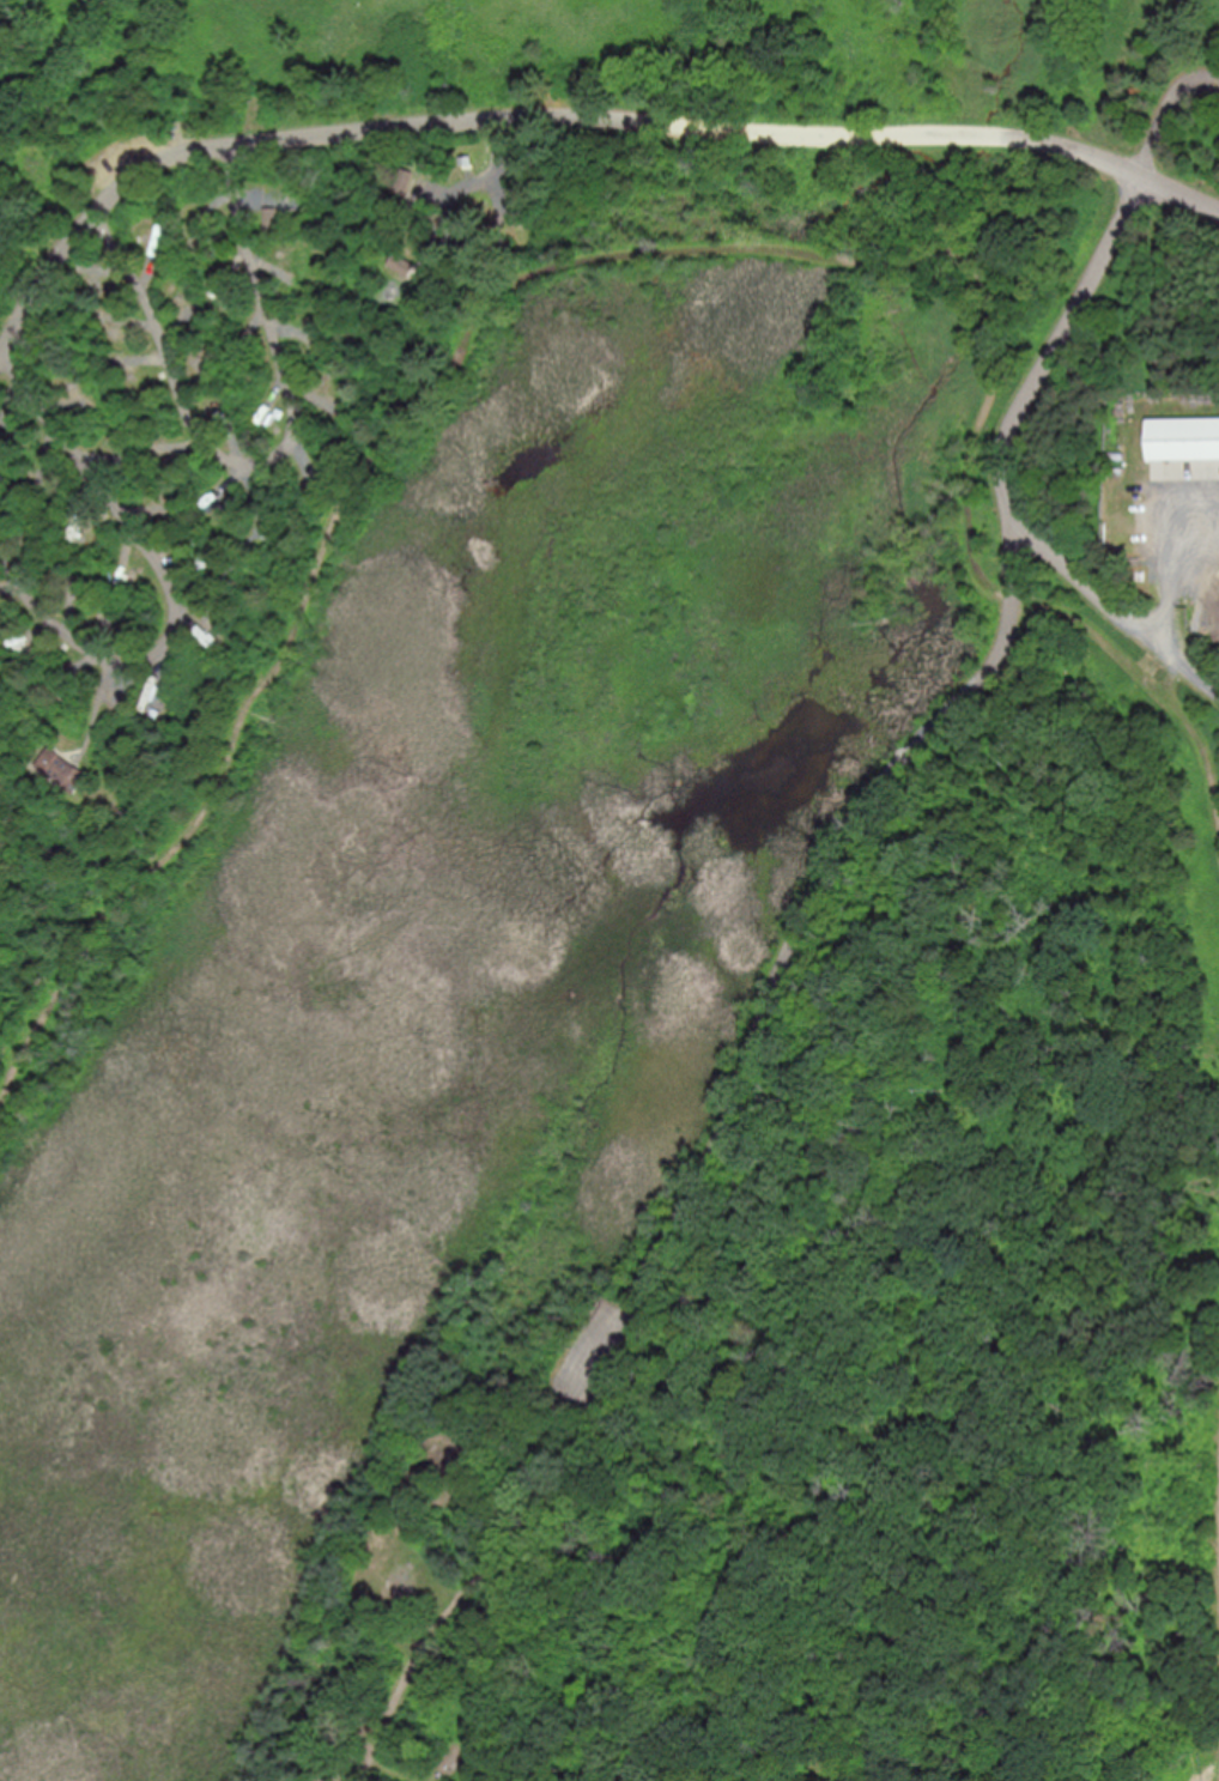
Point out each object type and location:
road: (1168, 113)
road: (454, 120)
road: (1077, 151)
building: (467, 160)
building: (401, 172)
road: (1179, 193)
building: (268, 208)
building: (400, 254)
building: (92, 271)
road: (477, 316)
road: (1023, 405)
building: (1182, 430)
road: (277, 460)
road: (168, 588)
road: (1168, 650)
building: (60, 759)
park: (609, 890)
road: (744, 1061)

